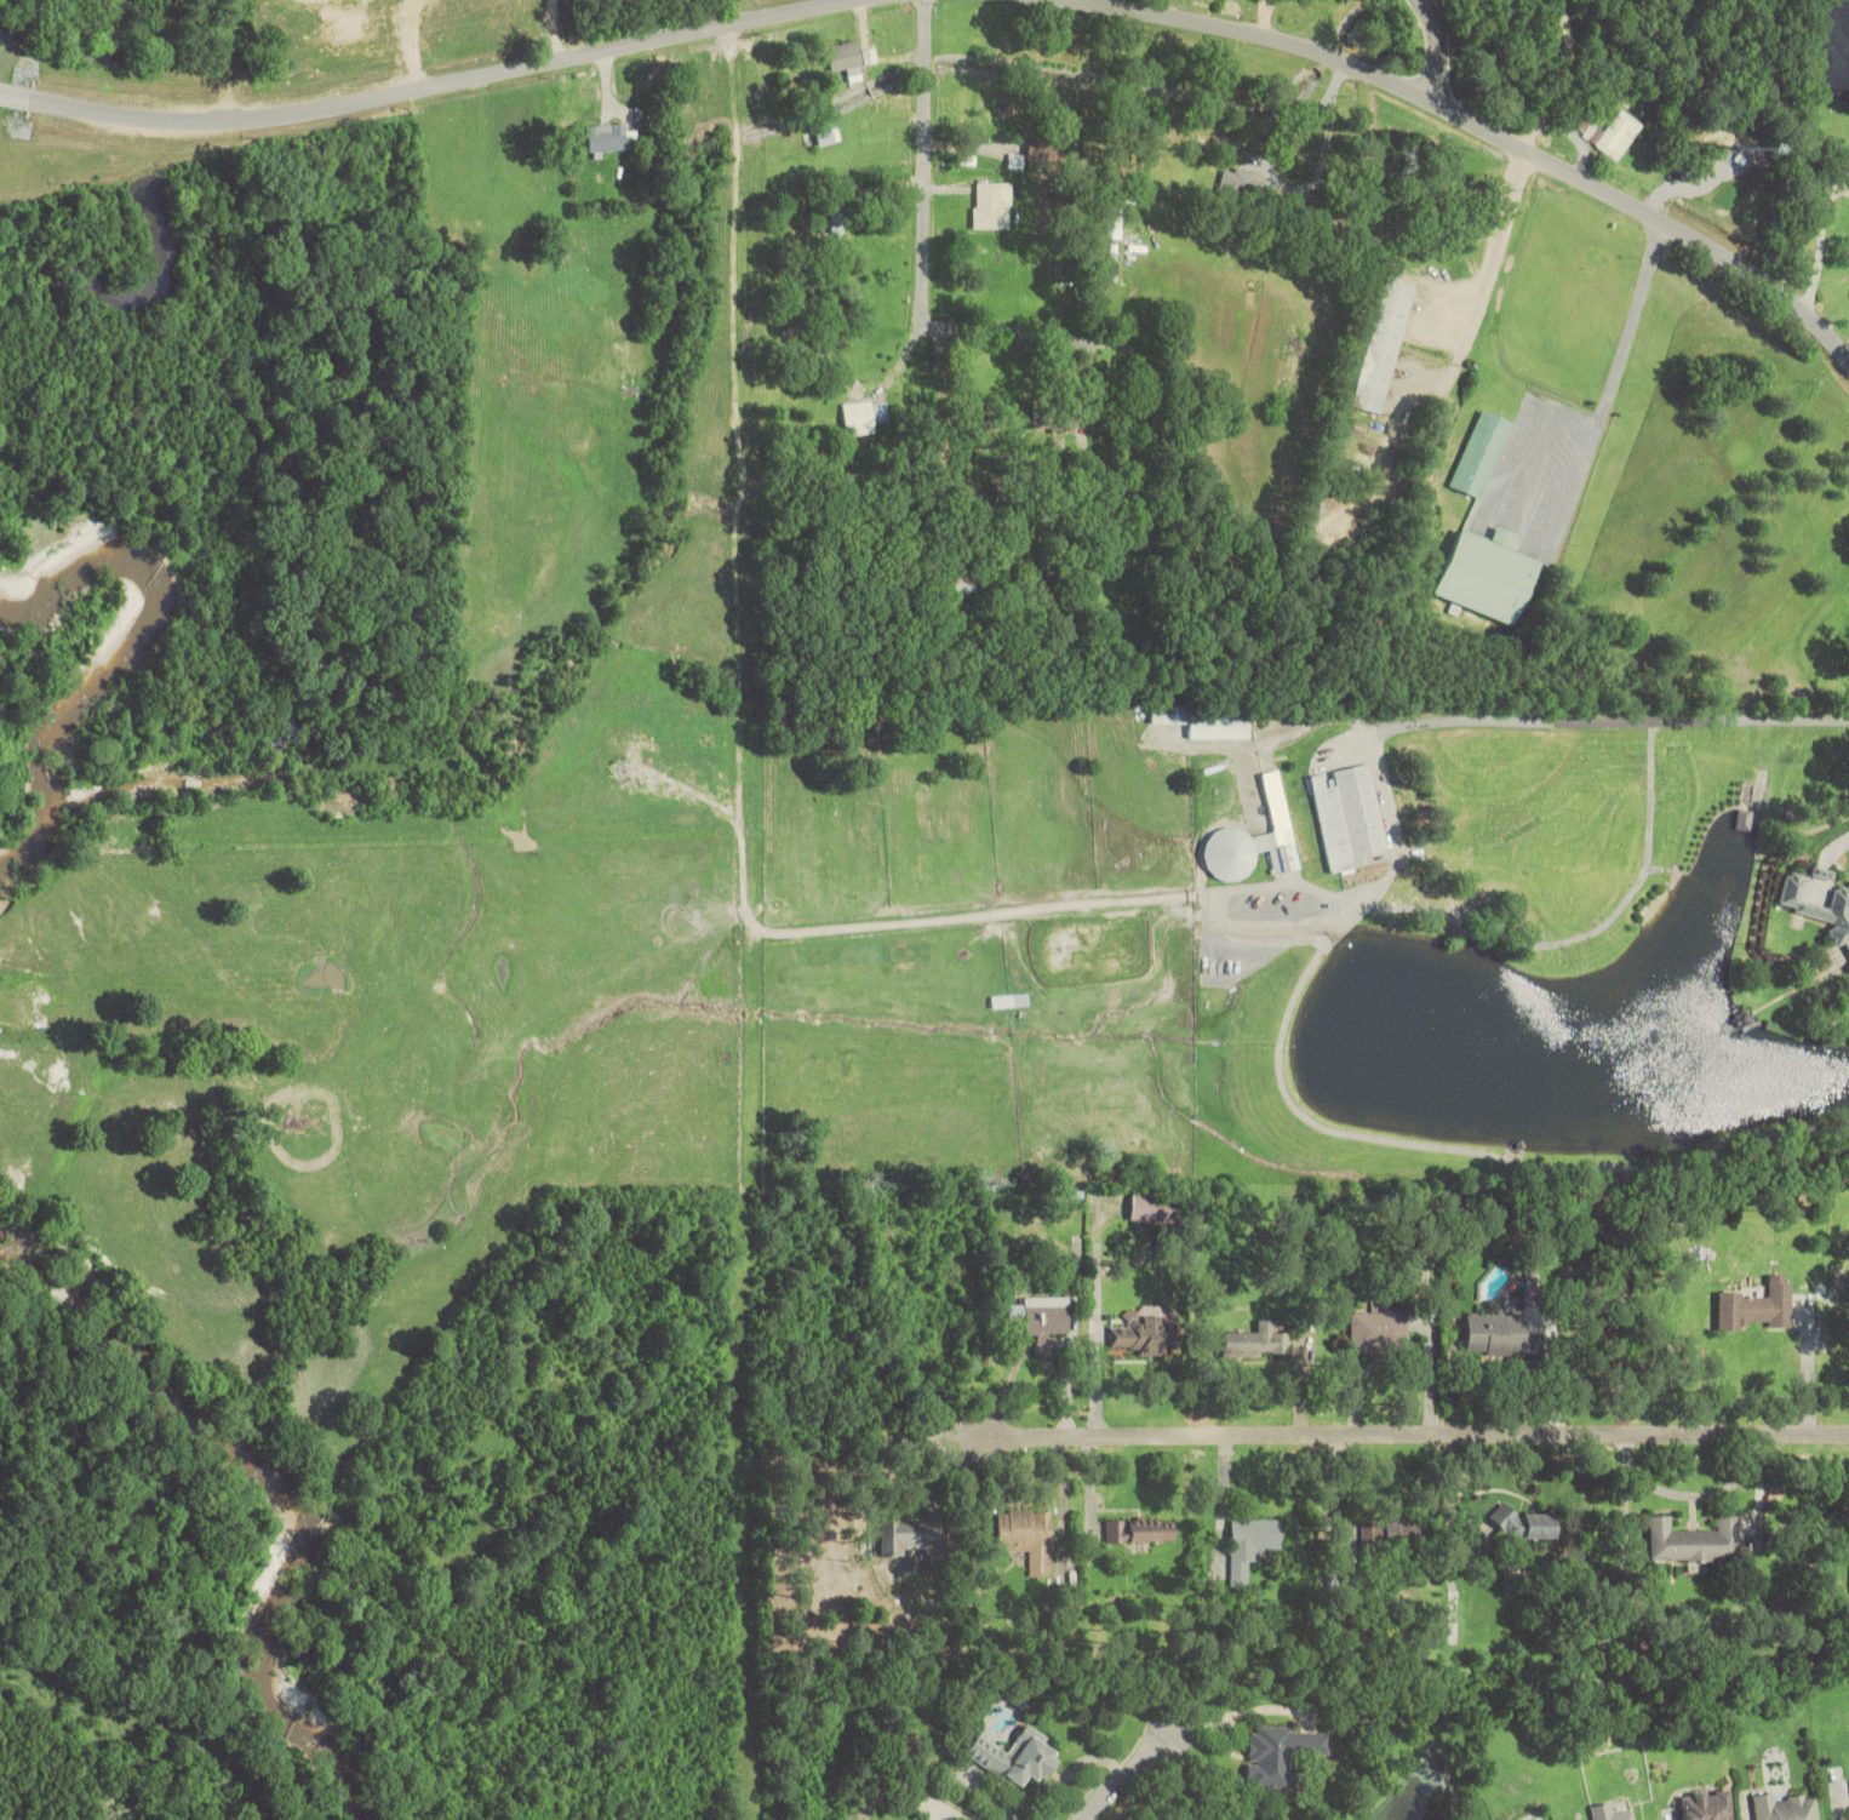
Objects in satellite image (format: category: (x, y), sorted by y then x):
building: (846, 59)
road: (456, 82)
road: (15, 95)
building: (1289, 131)
road: (1487, 133)
building: (1613, 133)
building: (611, 138)
building: (1048, 153)
road: (926, 174)
building: (992, 206)
building: (837, 235)
road: (1004, 331)
building: (1383, 345)
building: (1046, 414)
building: (864, 417)
building: (1481, 453)
building: (1311, 519)
building: (1489, 574)
building: (966, 585)
river: (114, 656)
building: (1207, 721)
building: (288, 728)
building: (1349, 815)
building: (1256, 841)
building: (1820, 872)
building: (1817, 908)
building: (1011, 1001)
building: (1155, 1207)
building: (1758, 1307)
building: (1041, 1321)
building: (1379, 1330)
building: (1146, 1333)
building: (1500, 1335)
building: (1256, 1341)
road: (1414, 1435)
river: (280, 1498)
building: (1527, 1524)
building: (1140, 1532)
building: (1370, 1533)
building: (1402, 1533)
building: (912, 1535)
building: (1786, 1535)
building: (1029, 1536)
building: (1695, 1541)
building: (1253, 1546)
building: (1281, 1755)
building: (1017, 1757)
road: (1126, 1775)
building: (1707, 1805)
building: (1786, 1807)
building: (1610, 1813)

